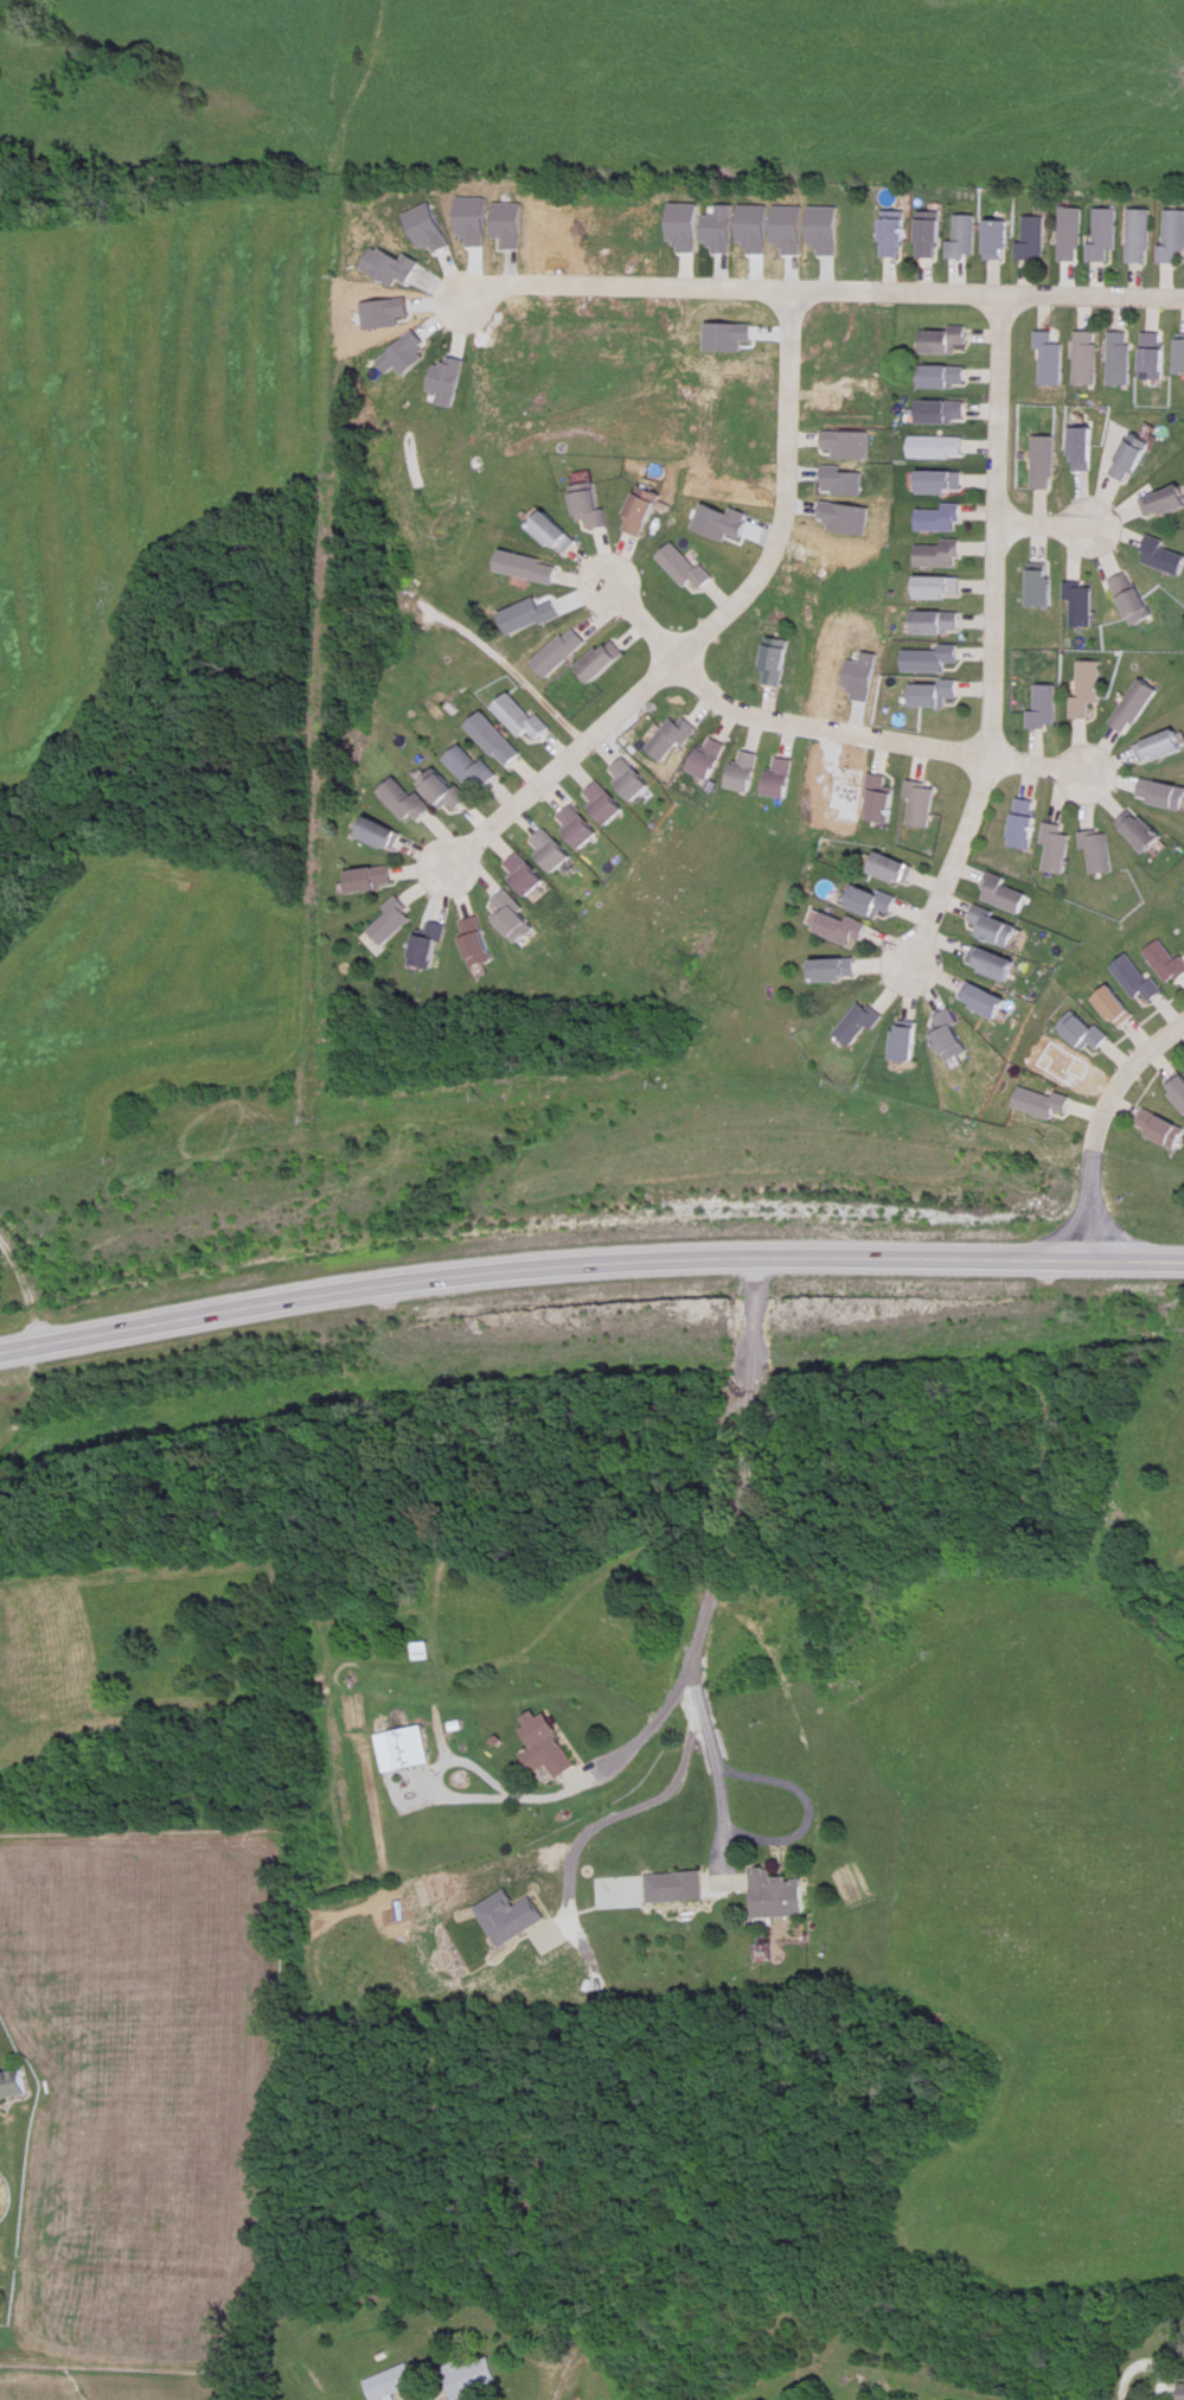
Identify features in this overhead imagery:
building: (1105, 234)
building: (1071, 235)
building: (892, 236)
building: (1140, 236)
building: (1172, 236)
building: (930, 237)
building: (966, 238)
building: (1035, 238)
building: (999, 240)
road: (821, 288)
building: (942, 342)
building: (1182, 353)
building: (1090, 358)
building: (1124, 358)
building: (1159, 358)
building: (1054, 359)
building: (943, 377)
building: (942, 413)
building: (940, 447)
building: (1087, 449)
building: (1047, 462)
building: (943, 483)
building: (1165, 504)
building: (594, 510)
building: (641, 515)
building: (945, 519)
road: (1043, 524)
building: (557, 532)
building: (943, 555)
building: (1161, 555)
building: (683, 566)
building: (531, 567)
building: (940, 588)
building: (1044, 588)
building: (1134, 598)
building: (1082, 606)
building: (533, 618)
road: (638, 619)
road: (710, 624)
building: (940, 624)
road: (991, 640)
building: (561, 652)
building: (934, 660)
building: (601, 662)
building: (777, 662)
road: (700, 685)
building: (1084, 689)
building: (936, 695)
building: (1133, 706)
building: (1043, 707)
building: (520, 717)
road: (776, 721)
road: (850, 734)
building: (671, 736)
building: (498, 741)
building: (1160, 746)
road: (932, 749)
building: (709, 758)
road: (1035, 765)
building: (474, 770)
building: (747, 772)
building: (783, 778)
building: (628, 779)
building: (1163, 793)
building: (409, 802)
building: (601, 803)
building: (887, 803)
building: (924, 805)
building: (1023, 824)
building: (575, 826)
building: (1146, 832)
building: (383, 835)
building: (551, 850)
building: (1057, 850)
building: (1102, 854)
building: (896, 869)
building: (526, 875)
building: (376, 881)
building: (1004, 894)
building: (879, 905)
building: (519, 918)
building: (399, 923)
building: (994, 927)
building: (846, 931)
building: (485, 943)
building: (434, 949)
building: (993, 965)
building: (837, 972)
building: (1135, 979)
building: (986, 1001)
building: (1114, 1007)
building: (863, 1026)
building: (1080, 1032)
building: (954, 1039)
building: (911, 1043)
building: (1178, 1091)
building: (1038, 1103)
road: (1097, 1128)
building: (1159, 1128)
road: (1139, 1263)
road: (544, 1266)
road: (740, 1475)
building: (421, 1652)
building: (545, 1747)
building: (409, 1748)
road: (716, 1780)
road: (526, 1798)
road: (614, 1808)
building: (690, 1887)
building: (775, 1896)
building: (11, 2085)
building: (471, 2381)
building: (389, 2383)
building: (1180, 2392)
road: (1160, 2398)

